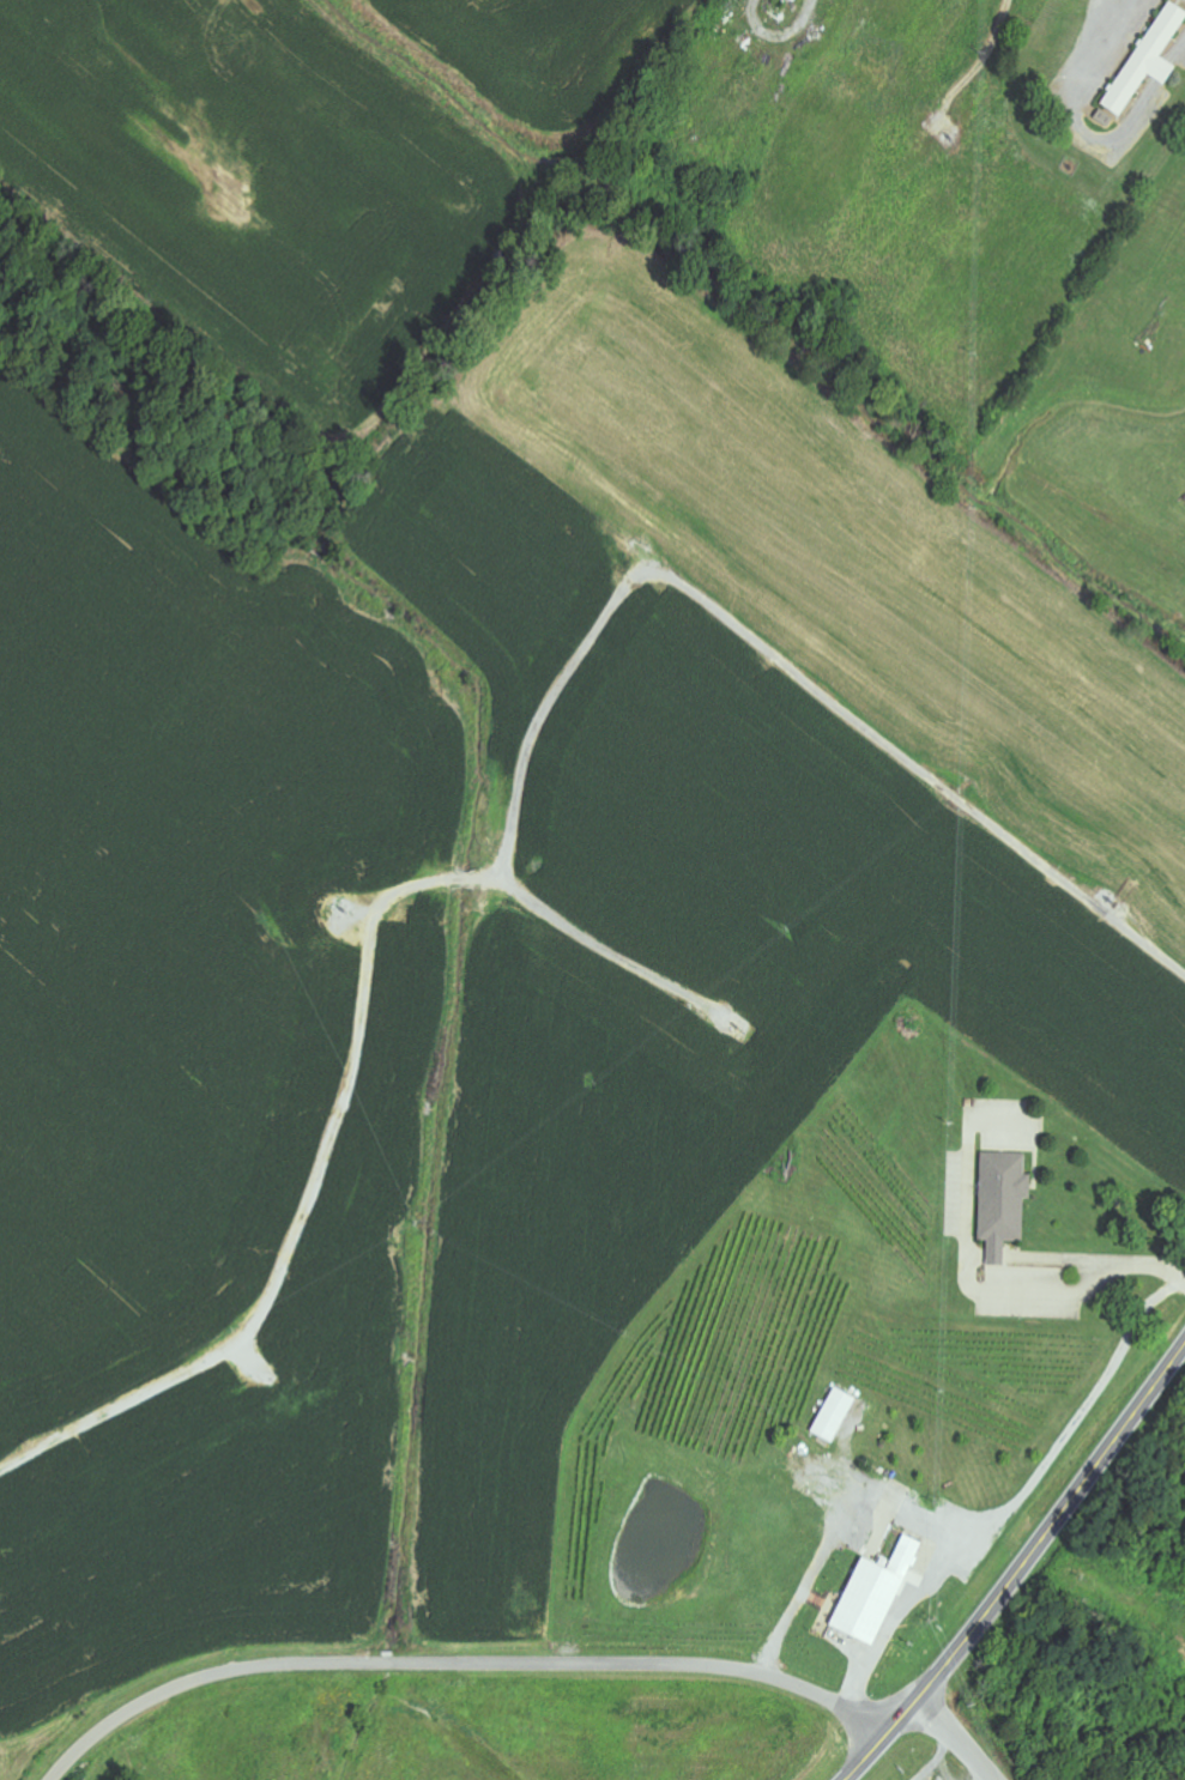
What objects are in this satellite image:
building: (796, 0)
building: (1151, 60)
building: (1005, 1201)
building: (838, 1415)
road: (1021, 1568)
building: (878, 1594)
road: (459, 1665)
road: (955, 1739)

